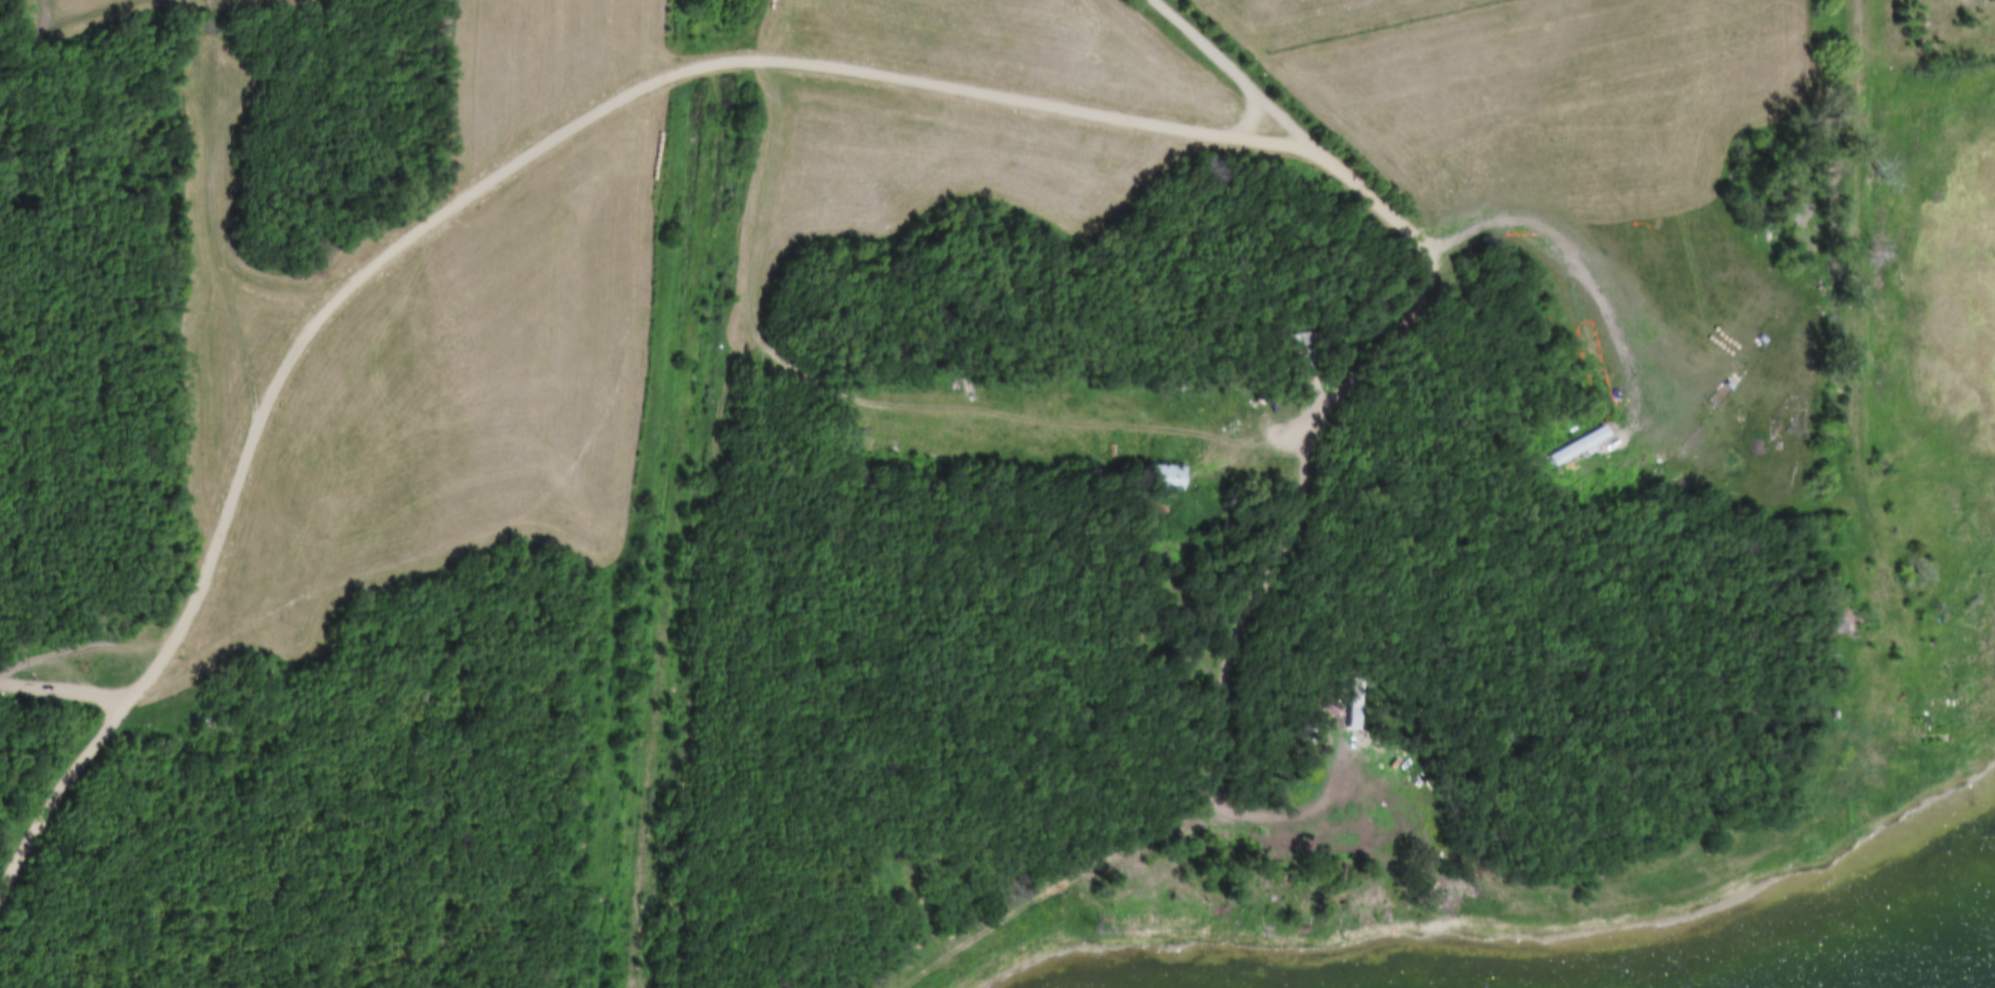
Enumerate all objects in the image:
road: (748, 36)
road: (640, 87)
building: (1302, 346)
road: (1860, 347)
building: (1316, 348)
building: (1159, 476)
building: (1830, 617)
building: (1857, 621)
road: (60, 690)
building: (1923, 746)
building: (1939, 749)
building: (1837, 800)
road: (1211, 808)
road: (1280, 818)

